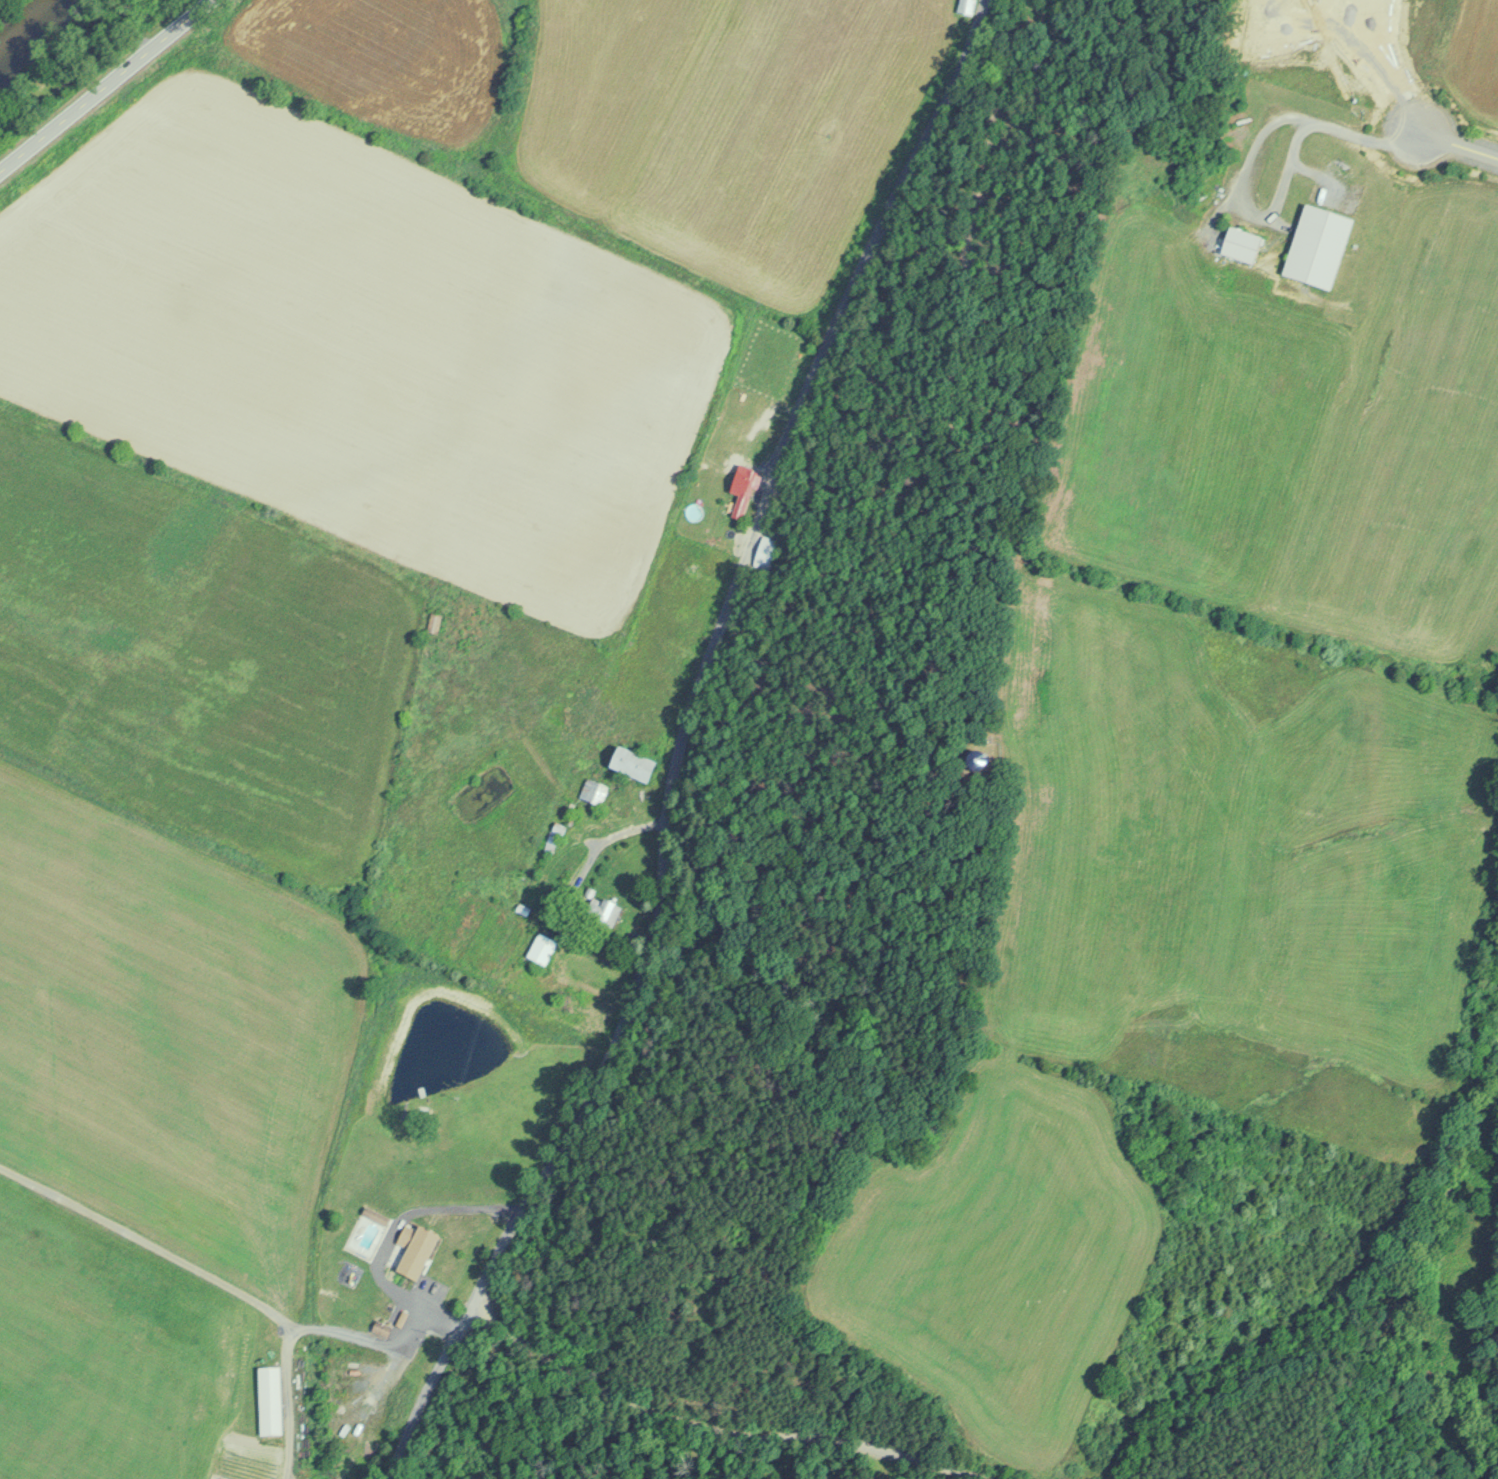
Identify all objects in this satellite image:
road: (103, 83)
road: (1454, 143)
building: (1240, 244)
building: (1316, 246)
building: (744, 480)
building: (763, 551)
building: (432, 621)
road: (668, 739)
building: (976, 759)
building: (631, 762)
building: (591, 790)
building: (602, 909)
building: (540, 948)
building: (415, 1251)
road: (229, 1286)
building: (267, 1399)
road: (287, 1402)
road: (713, 1428)

